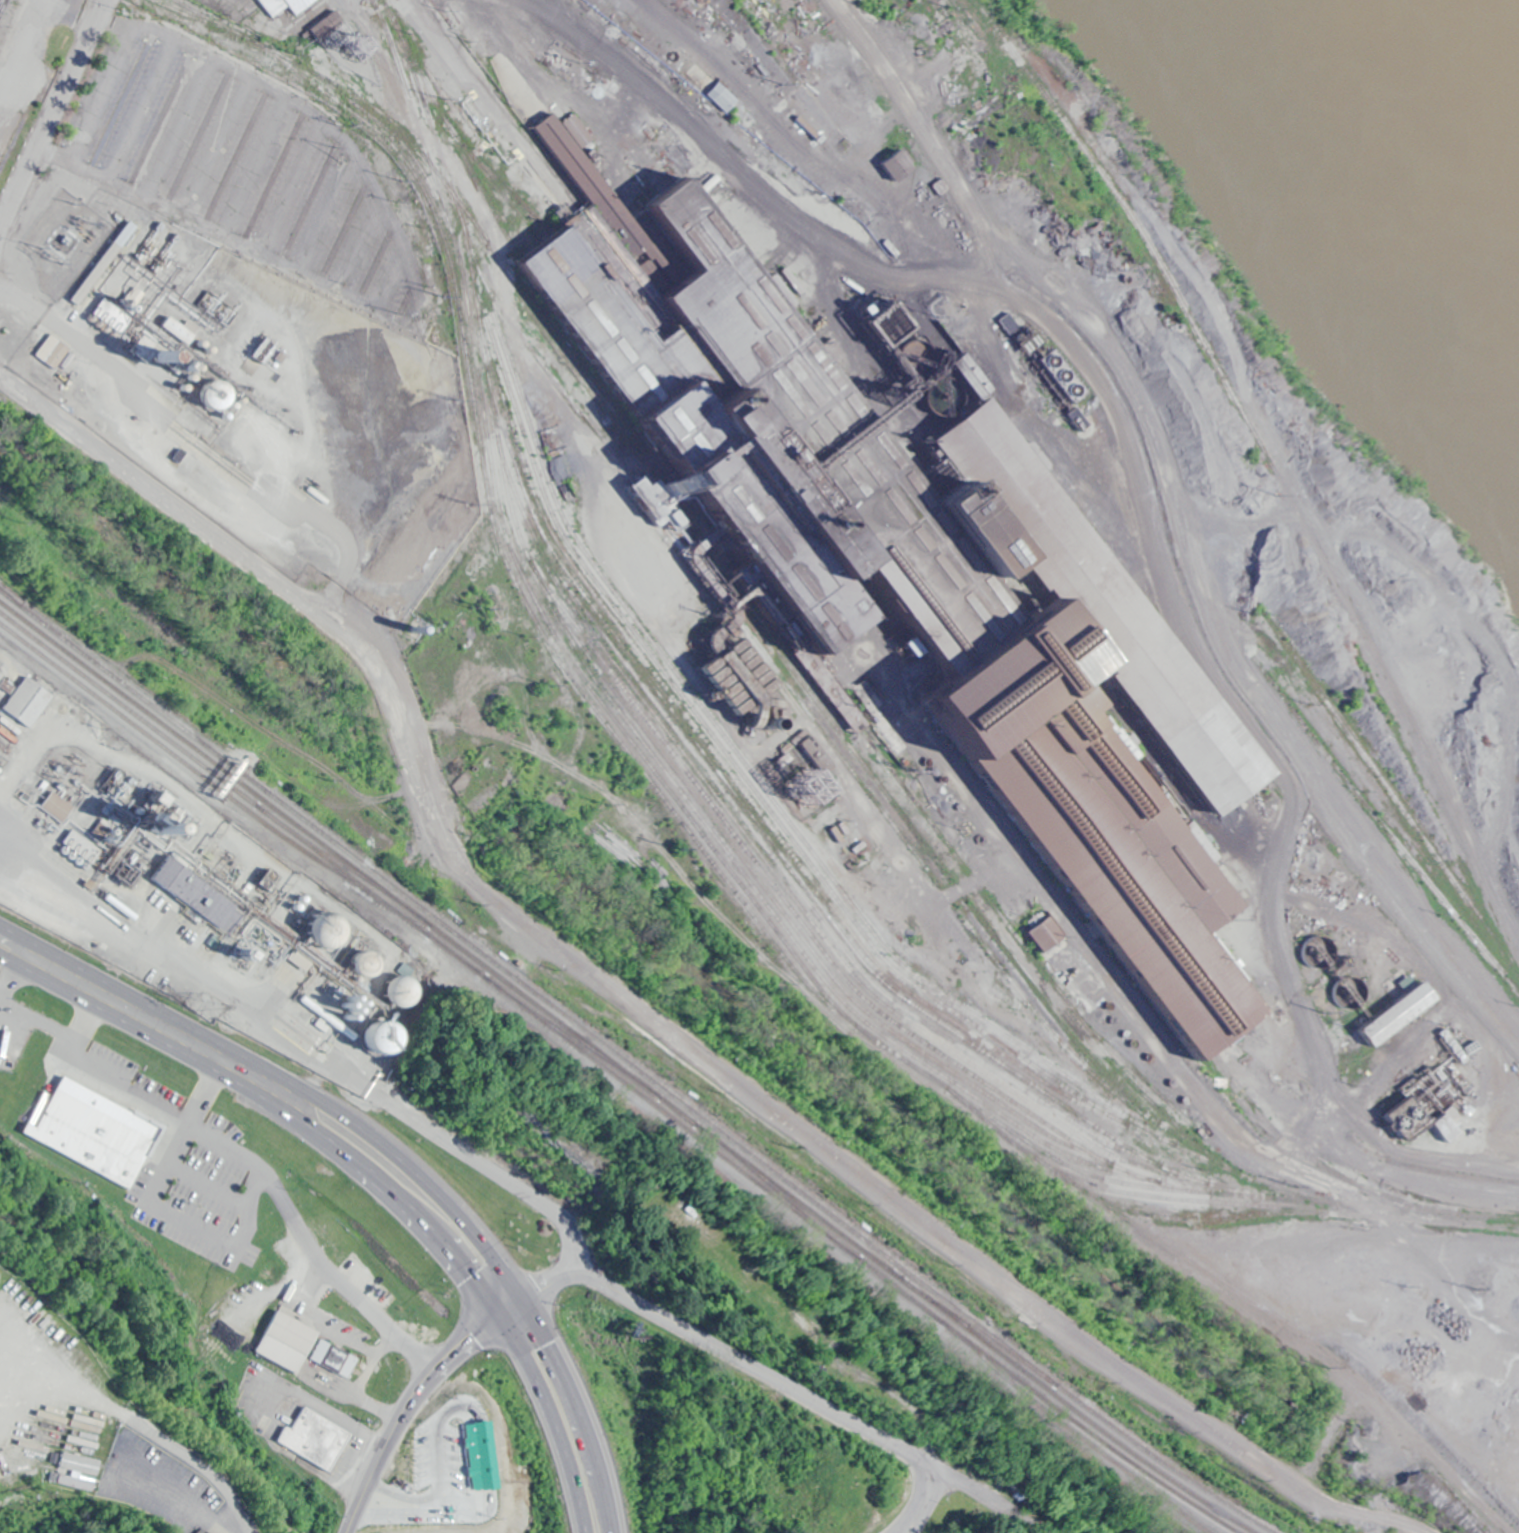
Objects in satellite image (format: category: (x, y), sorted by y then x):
building: (285, 6)
railway: (198, 18)
road: (378, 45)
railway: (707, 49)
road: (23, 53)
road: (102, 87)
road: (140, 106)
road: (51, 110)
road: (180, 125)
railway: (422, 130)
railway: (464, 137)
road: (908, 137)
road: (218, 145)
road: (255, 163)
parking lot: (247, 169)
railway: (478, 177)
road: (290, 185)
railway: (518, 196)
road: (329, 213)
railway: (540, 215)
railway: (500, 216)
road: (224, 235)
road: (357, 241)
road: (393, 277)
railway: (465, 345)
building: (52, 351)
railway: (590, 381)
railway: (1266, 460)
railway: (629, 487)
road: (1137, 525)
railway: (721, 547)
building: (915, 565)
railway: (10, 595)
railway: (10, 596)
road: (279, 597)
railway: (689, 689)
building: (28, 701)
railway: (127, 707)
railway: (615, 720)
railway: (1360, 747)
railway: (652, 752)
railway: (1408, 757)
railway: (732, 759)
railway: (214, 762)
railway: (210, 781)
railway: (1354, 792)
building: (58, 805)
railway: (751, 806)
railway: (726, 809)
railway: (719, 813)
railway: (912, 828)
railway: (342, 864)
railway: (340, 868)
railway: (813, 909)
railway: (966, 921)
building: (1047, 935)
railway: (805, 941)
railway: (454, 954)
road: (12, 982)
power tower: (208, 1007)
railway: (544, 1010)
building: (1402, 1013)
road: (38, 1017)
road: (80, 1029)
railway: (571, 1036)
railway: (899, 1056)
railway: (1137, 1071)
railway: (644, 1074)
road: (286, 1077)
road: (318, 1078)
railway: (1002, 1094)
road: (200, 1096)
road: (271, 1106)
railway: (677, 1109)
railway: (669, 1116)
building: (1449, 1126)
building: (94, 1130)
road: (436, 1133)
railway: (1266, 1134)
railway: (1316, 1161)
road: (273, 1185)
railway: (775, 1189)
railway: (1189, 1199)
road: (917, 1211)
railway: (1191, 1219)
traffic signals: (522, 1297)
traffic signals: (496, 1315)
railway: (1276, 1316)
railway: (973, 1326)
railway: (973, 1332)
building: (302, 1346)
road: (763, 1368)
road: (412, 1398)
railway: (1047, 1399)
road: (578, 1410)
road: (548, 1419)
railway: (1073, 1429)
building: (314, 1438)
building: (467, 1462)
road: (981, 1497)

